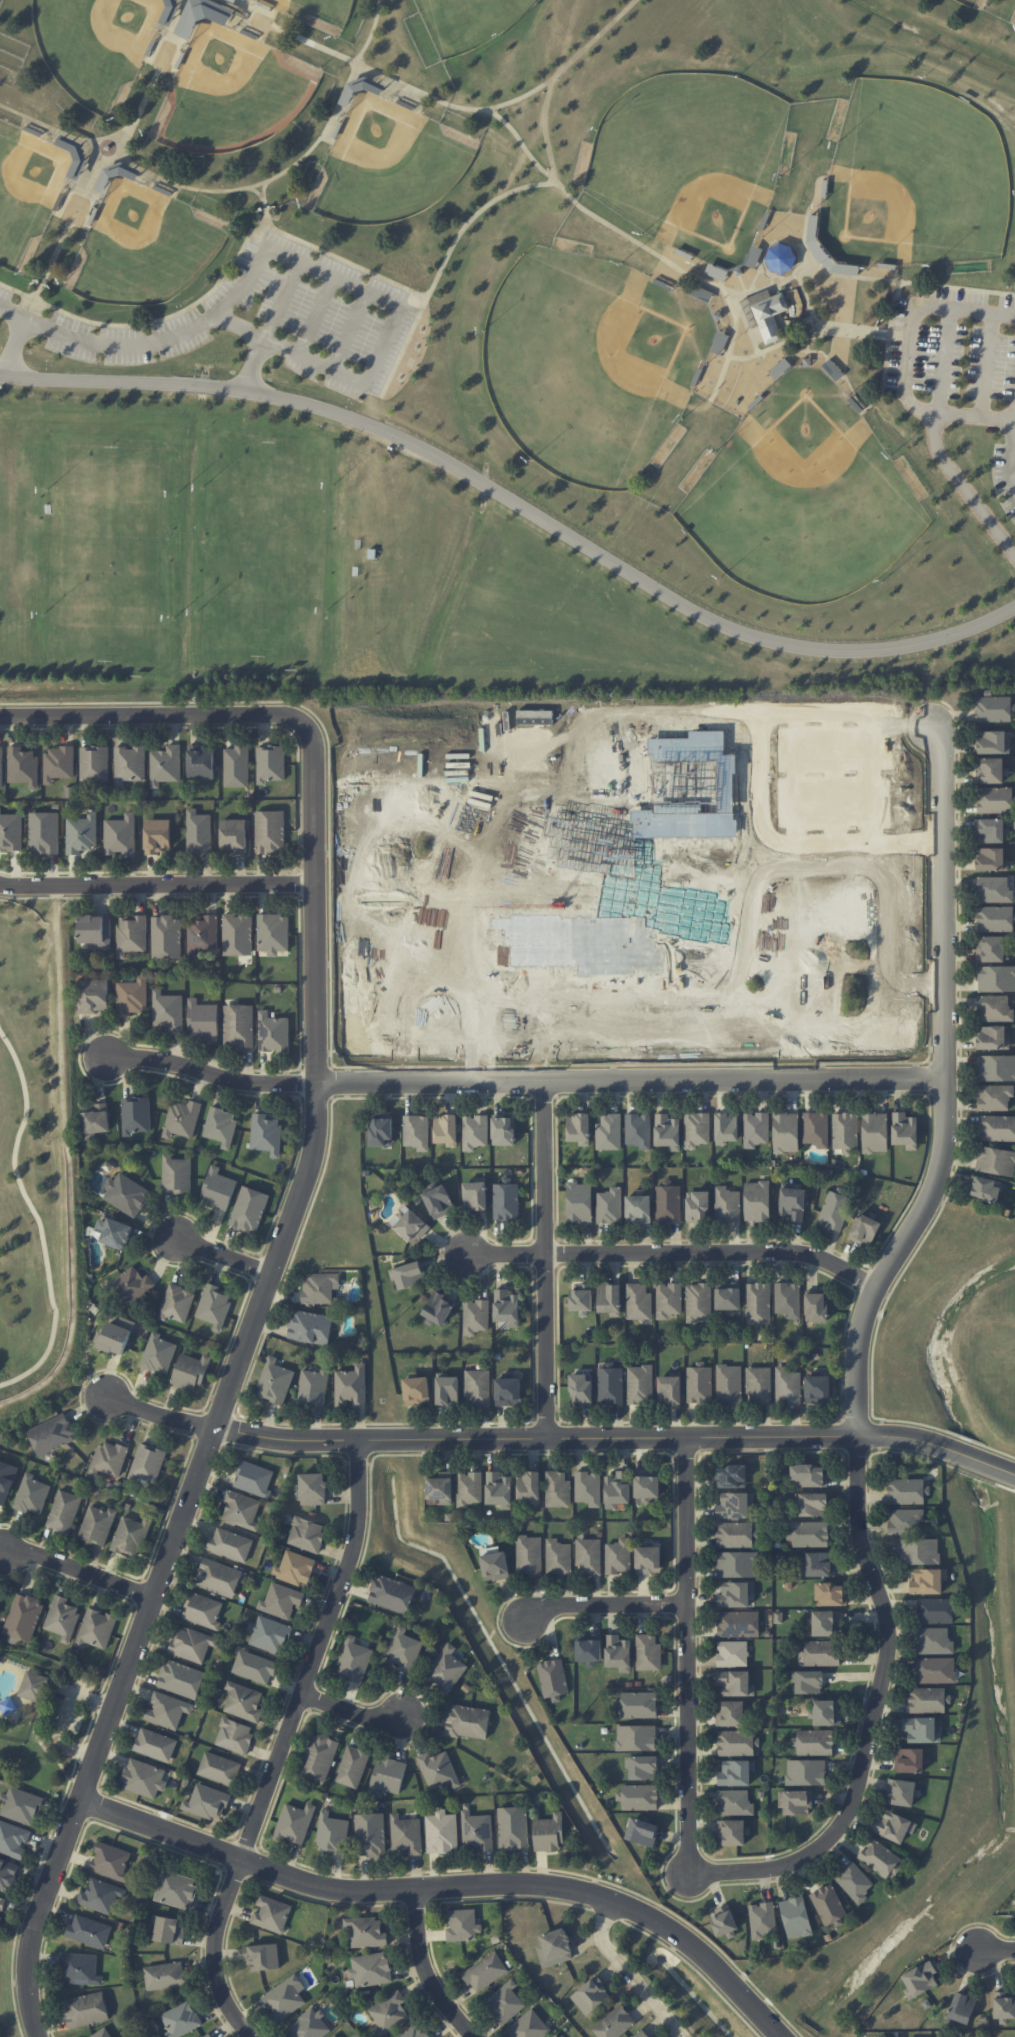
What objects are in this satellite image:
building: (234, 0)
park: (978, 3)
park: (324, 11)
building: (203, 15)
park: (1014, 19)
park: (469, 20)
road: (371, 32)
park: (97, 49)
road: (566, 66)
road: (156, 67)
building: (376, 91)
park: (232, 93)
road: (39, 124)
road: (543, 129)
road: (526, 156)
park: (686, 158)
park: (391, 164)
road: (131, 167)
park: (913, 181)
road: (192, 189)
park: (27, 191)
road: (263, 212)
road: (60, 241)
park: (149, 246)
road: (801, 252)
building: (754, 256)
road: (443, 266)
building: (880, 270)
building: (716, 272)
road: (895, 292)
road: (281, 303)
building: (773, 313)
road: (814, 313)
road: (395, 316)
road: (316, 318)
parking lot: (250, 322)
road: (150, 324)
road: (348, 333)
road: (865, 333)
park: (506, 344)
road: (106, 346)
road: (15, 349)
road: (906, 359)
park: (588, 362)
road: (943, 363)
road: (254, 366)
building: (780, 368)
parking lot: (959, 368)
road: (986, 368)
road: (1009, 451)
road: (963, 491)
park: (801, 500)
road: (516, 504)
park: (267, 553)
park: (112, 554)
road: (118, 688)
building: (993, 708)
building: (992, 741)
building: (200, 762)
building: (58, 763)
building: (270, 763)
building: (94, 764)
building: (129, 764)
building: (165, 765)
building: (23, 766)
building: (236, 766)
building: (1, 767)
building: (990, 770)
building: (993, 799)
building: (990, 829)
building: (11, 831)
building: (198, 832)
building: (269, 832)
building: (43, 833)
building: (81, 833)
building: (120, 835)
building: (157, 835)
building: (233, 835)
building: (990, 859)
road: (155, 883)
building: (994, 889)
road: (304, 890)
building: (995, 919)
building: (96, 931)
building: (273, 933)
building: (131, 934)
building: (202, 934)
building: (237, 934)
building: (166, 936)
building: (990, 949)
building: (996, 977)
building: (92, 995)
building: (132, 995)
building: (994, 1009)
building: (167, 1010)
building: (202, 1019)
building: (238, 1025)
building: (273, 1032)
building: (992, 1037)
road: (173, 1051)
road: (100, 1054)
road: (106, 1056)
building: (996, 1067)
road: (307, 1076)
road: (521, 1081)
building: (994, 1097)
building: (135, 1115)
building: (182, 1118)
building: (95, 1119)
building: (221, 1126)
building: (726, 1127)
building: (816, 1128)
building: (997, 1128)
building: (579, 1129)
building: (696, 1129)
building: (755, 1129)
building: (904, 1129)
building: (446, 1130)
building: (504, 1130)
building: (639, 1130)
building: (381, 1131)
building: (416, 1131)
building: (475, 1131)
building: (608, 1131)
building: (667, 1131)
building: (786, 1131)
building: (845, 1131)
building: (874, 1132)
building: (266, 1134)
building: (996, 1161)
park: (38, 1166)
building: (176, 1174)
road: (69, 1181)
building: (984, 1188)
building: (218, 1189)
building: (126, 1193)
building: (475, 1195)
building: (756, 1200)
building: (439, 1201)
building: (506, 1201)
building: (578, 1202)
building: (668, 1202)
building: (792, 1203)
building: (726, 1204)
building: (698, 1205)
building: (609, 1206)
building: (638, 1207)
building: (249, 1209)
building: (835, 1209)
building: (410, 1224)
building: (865, 1229)
building: (114, 1232)
road: (276, 1248)
road: (671, 1251)
road: (219, 1255)
road: (546, 1257)
building: (408, 1275)
building: (130, 1286)
building: (320, 1287)
building: (728, 1296)
building: (581, 1298)
building: (609, 1298)
building: (787, 1298)
building: (667, 1299)
building: (638, 1300)
building: (698, 1302)
building: (758, 1302)
building: (176, 1303)
building: (815, 1305)
building: (214, 1306)
building: (439, 1307)
building: (507, 1307)
building: (475, 1316)
building: (310, 1327)
building: (116, 1335)
dam: (20, 1351)
road: (859, 1351)
building: (158, 1353)
building: (190, 1372)
building: (275, 1381)
building: (610, 1383)
building: (699, 1383)
building: (759, 1383)
building: (640, 1384)
building: (728, 1384)
building: (350, 1385)
building: (787, 1385)
building: (478, 1386)
building: (312, 1387)
building: (818, 1387)
building: (581, 1388)
building: (669, 1388)
building: (447, 1389)
building: (416, 1390)
building: (508, 1391)
road: (10, 1402)
road: (159, 1413)
building: (52, 1434)
road: (616, 1435)
building: (109, 1458)
building: (148, 1462)
building: (809, 1475)
building: (730, 1476)
building: (254, 1478)
building: (6, 1480)
building: (647, 1484)
building: (529, 1487)
building: (441, 1488)
building: (468, 1488)
building: (588, 1488)
building: (313, 1489)
building: (499, 1489)
building: (557, 1489)
building: (617, 1489)
building: (907, 1490)
building: (32, 1494)
building: (812, 1504)
building: (734, 1505)
building: (241, 1510)
building: (64, 1511)
building: (905, 1521)
building: (97, 1525)
building: (306, 1534)
building: (736, 1534)
building: (810, 1534)
building: (130, 1535)
building: (229, 1544)
building: (919, 1551)
building: (529, 1554)
building: (588, 1555)
building: (618, 1556)
building: (558, 1557)
building: (648, 1560)
building: (736, 1564)
building: (818, 1564)
building: (495, 1566)
building: (295, 1568)
road: (76, 1570)
building: (218, 1577)
building: (928, 1581)
building: (391, 1593)
building: (735, 1594)
building: (831, 1594)
building: (281, 1600)
road: (604, 1604)
building: (202, 1610)
building: (935, 1610)
building: (62, 1617)
building: (23, 1618)
building: (825, 1623)
building: (738, 1624)
building: (96, 1629)
building: (269, 1634)
building: (935, 1641)
building: (191, 1644)
building: (589, 1648)
building: (403, 1649)
building: (648, 1652)
road: (687, 1652)
building: (821, 1652)
building: (618, 1653)
building: (732, 1653)
building: (353, 1660)
building: (254, 1667)
building: (446, 1669)
building: (936, 1670)
building: (181, 1679)
building: (553, 1679)
building: (807, 1681)
building: (735, 1683)
building: (34, 1685)
building: (928, 1699)
building: (243, 1701)
building: (638, 1704)
road: (351, 1709)
building: (167, 1710)
building: (826, 1712)
building: (730, 1713)
road: (64, 1716)
building: (468, 1721)
building: (921, 1729)
building: (234, 1735)
building: (636, 1737)
building: (736, 1742)
building: (814, 1742)
building: (155, 1744)
road: (284, 1744)
building: (319, 1756)
building: (909, 1760)
building: (352, 1766)
building: (643, 1767)
building: (219, 1768)
building: (438, 1770)
building: (736, 1772)
building: (806, 1772)
building: (388, 1775)
building: (144, 1778)
building: (901, 1792)
building: (639, 1797)
building: (208, 1801)
building: (734, 1802)
building: (795, 1802)
building: (21, 1805)
building: (295, 1822)
building: (894, 1826)
building: (513, 1827)
building: (477, 1831)
building: (442, 1832)
building: (642, 1832)
building: (732, 1832)
building: (549, 1833)
building: (371, 1834)
building: (406, 1834)
building: (333, 1835)
building: (13, 1839)
building: (881, 1858)
building: (111, 1861)
building: (7, 1874)
building: (855, 1882)
road: (449, 1886)
building: (176, 1889)
building: (101, 1895)
building: (2, 1905)
building: (828, 1905)
building: (271, 1913)
building: (795, 1917)
building: (762, 1919)
building: (724, 1922)
building: (463, 1925)
building: (169, 1929)
building: (89, 1931)
building: (366, 1932)
building: (555, 1947)
road: (994, 1950)
building: (262, 1956)
building: (80, 1968)
building: (370, 1969)
road: (425, 1969)
building: (485, 1971)
road: (628, 1973)
building: (165, 1975)
building: (920, 1979)
building: (591, 1995)
building: (285, 1998)
building: (505, 2002)
building: (1004, 2006)
building: (961, 2008)
building: (85, 2009)
building: (389, 2013)
building: (180, 2019)
building: (615, 2023)
building: (309, 2025)
building: (529, 2026)
building: (416, 2031)
building: (102, 2033)
building: (640, 2034)
building: (208, 2035)
building: (334, 2036)
building: (556, 2036)

